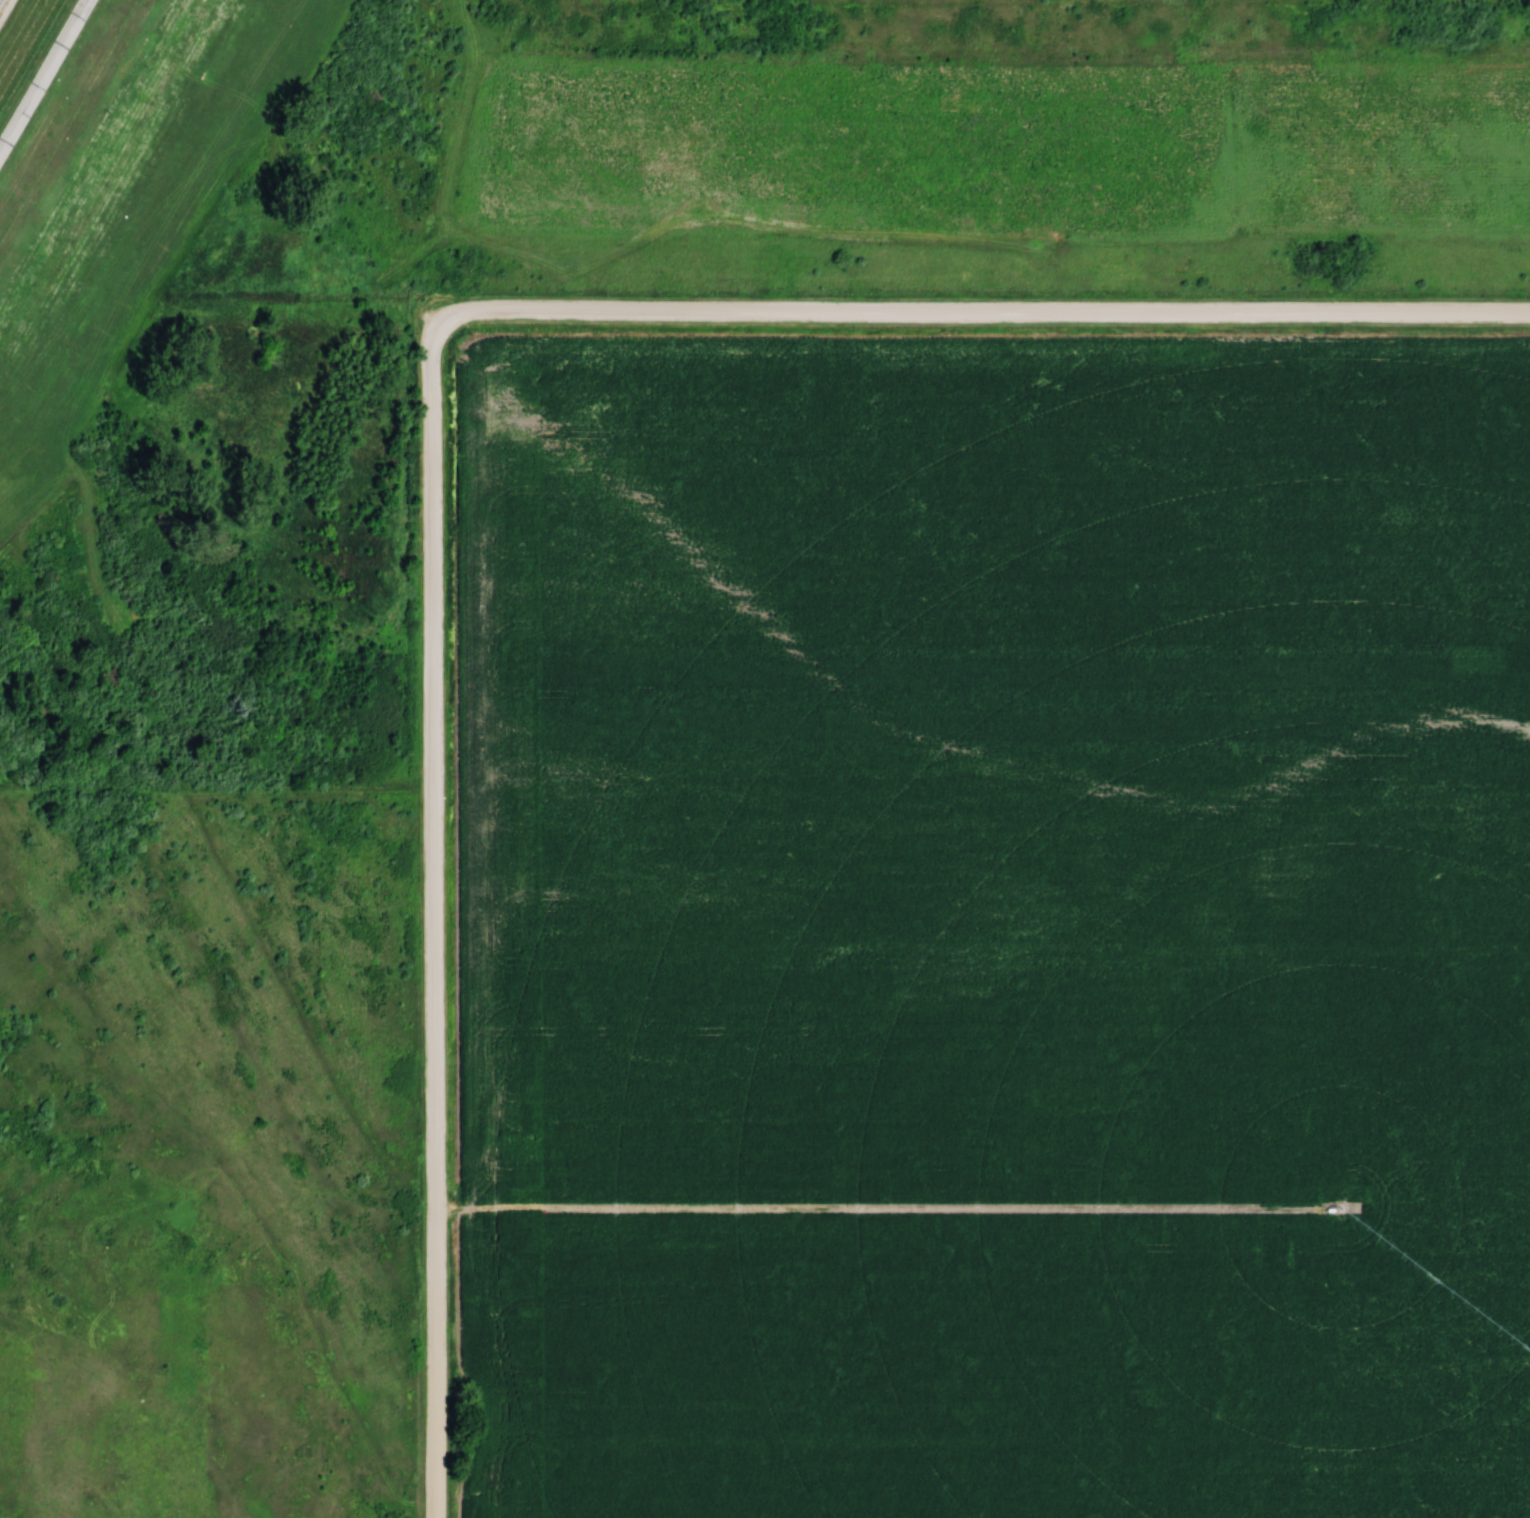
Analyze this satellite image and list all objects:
road: (5, 9)
park: (29, 50)
road: (44, 75)
road: (980, 312)
road: (431, 915)

